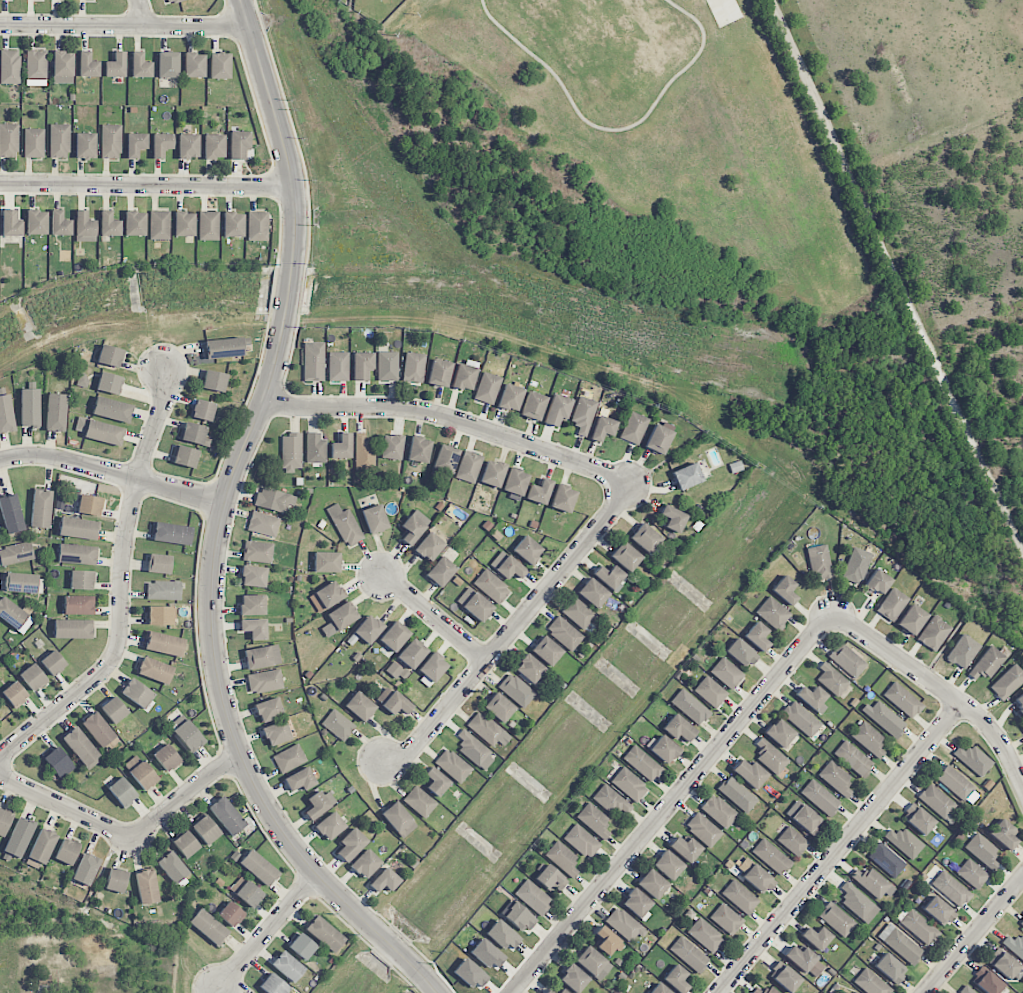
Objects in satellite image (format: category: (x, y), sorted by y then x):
building: (88, 0)
building: (173, 1)
road: (143, 13)
road: (123, 25)
building: (168, 64)
building: (36, 65)
building: (88, 65)
building: (116, 65)
building: (194, 65)
building: (140, 66)
building: (219, 66)
building: (9, 67)
building: (62, 67)
road: (613, 130)
building: (8, 140)
building: (59, 141)
building: (110, 142)
building: (33, 143)
building: (135, 144)
building: (161, 144)
building: (239, 144)
building: (85, 145)
park: (632, 145)
building: (188, 146)
building: (214, 146)
road: (147, 184)
building: (36, 222)
building: (10, 223)
building: (135, 223)
building: (59, 224)
building: (108, 224)
building: (184, 224)
building: (233, 224)
building: (159, 225)
building: (208, 226)
building: (258, 226)
building: (84, 227)
road: (894, 274)
building: (225, 347)
building: (110, 356)
building: (313, 361)
building: (338, 366)
building: (362, 366)
building: (387, 366)
building: (413, 367)
building: (439, 373)
building: (464, 377)
building: (214, 381)
building: (109, 383)
building: (487, 388)
building: (510, 397)
building: (533, 406)
building: (29, 407)
building: (112, 409)
building: (202, 410)
building: (557, 410)
building: (56, 412)
building: (6, 414)
building: (583, 415)
road: (453, 419)
building: (602, 428)
building: (634, 428)
building: (100, 431)
building: (194, 434)
building: (658, 439)
building: (341, 447)
building: (391, 447)
building: (315, 448)
building: (419, 449)
building: (291, 452)
building: (364, 453)
building: (185, 456)
building: (444, 462)
building: (469, 467)
road: (112, 473)
building: (492, 473)
building: (686, 476)
building: (515, 483)
building: (539, 492)
building: (563, 498)
building: (274, 500)
building: (90, 505)
building: (40, 509)
building: (11, 514)
building: (673, 518)
building: (374, 519)
building: (263, 524)
building: (345, 525)
road: (220, 526)
building: (414, 526)
building: (77, 528)
building: (172, 533)
building: (645, 538)
building: (429, 547)
building: (527, 550)
building: (258, 551)
building: (16, 553)
building: (76, 554)
building: (626, 556)
building: (326, 562)
building: (819, 562)
building: (159, 564)
building: (856, 565)
building: (507, 566)
building: (440, 571)
building: (253, 576)
building: (609, 576)
building: (81, 580)
building: (877, 583)
building: (491, 586)
road: (122, 589)
building: (163, 590)
building: (785, 590)
building: (592, 593)
building: (326, 596)
building: (252, 604)
building: (474, 604)
building: (78, 605)
building: (892, 605)
building: (578, 613)
building: (773, 613)
building: (160, 615)
building: (14, 616)
building: (339, 619)
road: (436, 619)
building: (911, 619)
building: (254, 628)
building: (72, 629)
building: (368, 629)
road: (511, 630)
building: (564, 633)
building: (934, 633)
building: (394, 636)
building: (757, 636)
building: (164, 644)
building: (546, 651)
building: (963, 651)
building: (741, 653)
building: (412, 654)
building: (262, 657)
building: (847, 660)
building: (988, 662)
building: (53, 663)
building: (529, 668)
building: (432, 669)
building: (154, 670)
building: (395, 671)
building: (726, 673)
building: (32, 677)
building: (831, 679)
building: (265, 681)
building: (1007, 682)
road: (940, 687)
building: (516, 690)
building: (710, 692)
building: (137, 693)
building: (14, 694)
building: (811, 697)
building: (902, 700)
building: (393, 701)
building: (360, 706)
building: (1019, 706)
building: (499, 707)
building: (690, 707)
building: (268, 709)
building: (114, 710)
building: (884, 718)
building: (801, 719)
building: (338, 725)
building: (1022, 725)
building: (678, 728)
building: (98, 729)
building: (487, 730)
building: (276, 733)
building: (779, 733)
building: (188, 736)
building: (869, 739)
building: (81, 748)
building: (664, 749)
building: (474, 751)
building: (770, 756)
building: (166, 757)
building: (289, 758)
building: (853, 758)
building: (973, 760)
building: (58, 763)
building: (642, 763)
building: (453, 765)
building: (140, 772)
building: (750, 773)
building: (836, 778)
building: (299, 780)
building: (436, 781)
building: (954, 782)
building: (629, 784)
building: (122, 792)
building: (737, 794)
building: (819, 797)
building: (611, 801)
building: (419, 802)
road: (672, 802)
building: (938, 802)
building: (318, 804)
building: (719, 811)
building: (226, 816)
building: (804, 817)
building: (918, 819)
building: (398, 820)
building: (594, 820)
building: (4, 821)
building: (330, 826)
building: (205, 830)
building: (703, 830)
building: (1003, 834)
road: (128, 835)
building: (19, 838)
building: (582, 841)
building: (793, 841)
building: (904, 842)
building: (186, 844)
building: (351, 845)
building: (42, 846)
building: (685, 848)
road: (841, 848)
building: (982, 851)
building: (66, 852)
building: (771, 856)
building: (562, 858)
building: (887, 859)
building: (366, 864)
building: (668, 865)
building: (258, 867)
building: (85, 869)
building: (173, 869)
building: (972, 874)
building: (551, 879)
building: (758, 879)
building: (116, 880)
building: (384, 881)
building: (872, 882)
building: (652, 884)
building: (146, 887)
building: (951, 889)
building: (246, 892)
building: (533, 897)
building: (740, 897)
building: (637, 903)
building: (858, 903)
building: (938, 911)
building: (231, 914)
building: (519, 917)
building: (726, 919)
building: (836, 919)
building: (1021, 922)
building: (624, 925)
building: (208, 926)
building: (918, 927)
road: (267, 933)
building: (324, 934)
building: (705, 935)
road: (974, 935)
building: (503, 936)
building: (816, 938)
building: (607, 941)
building: (900, 944)
building: (1015, 945)
building: (301, 946)
building: (487, 954)
building: (689, 954)
building: (805, 961)
building: (593, 963)
building: (1006, 965)
building: (287, 966)
building: (890, 968)
building: (470, 973)
building: (785, 977)
building: (573, 978)
building: (676, 978)
building: (986, 980)
building: (871, 983)
building: (273, 985)
building: (659, 989)
building: (770, 990)
building: (966, 990)
building: (549, 991)
building: (562, 991)
building: (756, 991)
building: (856, 992)

